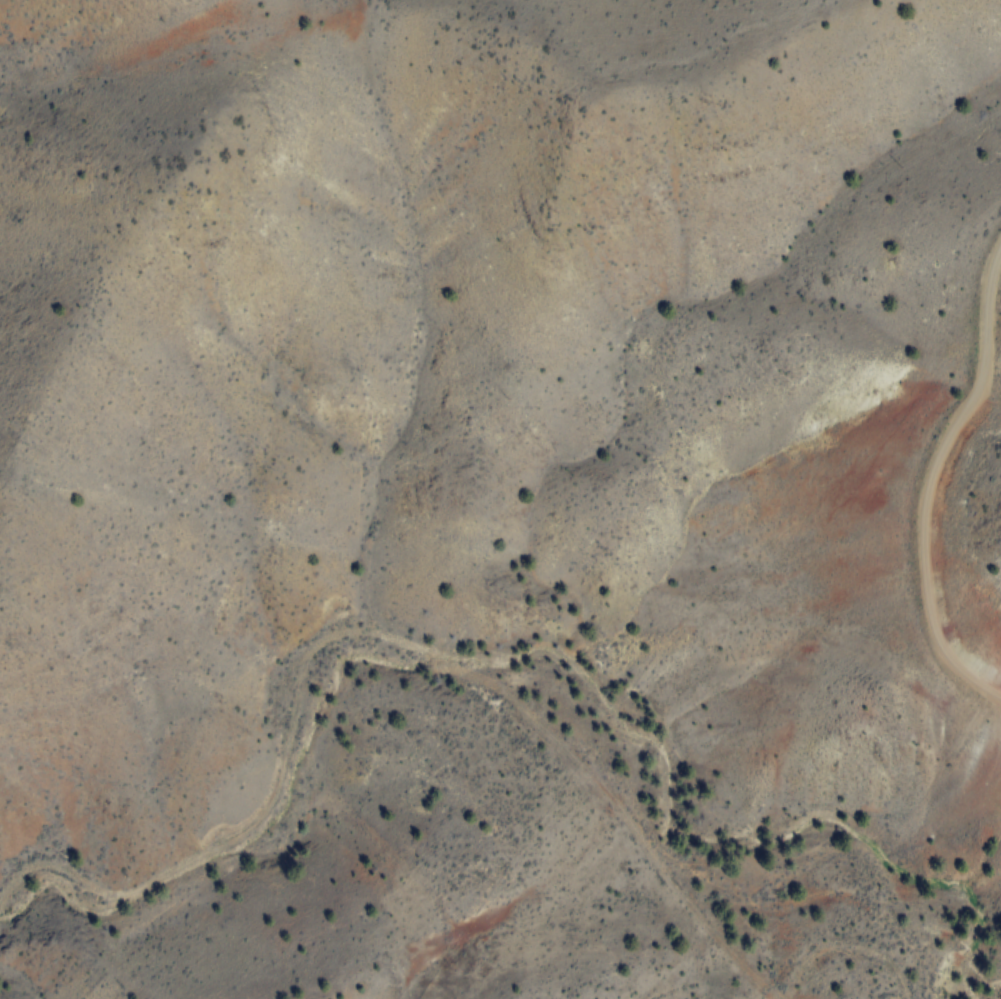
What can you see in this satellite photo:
road: (933, 479)

